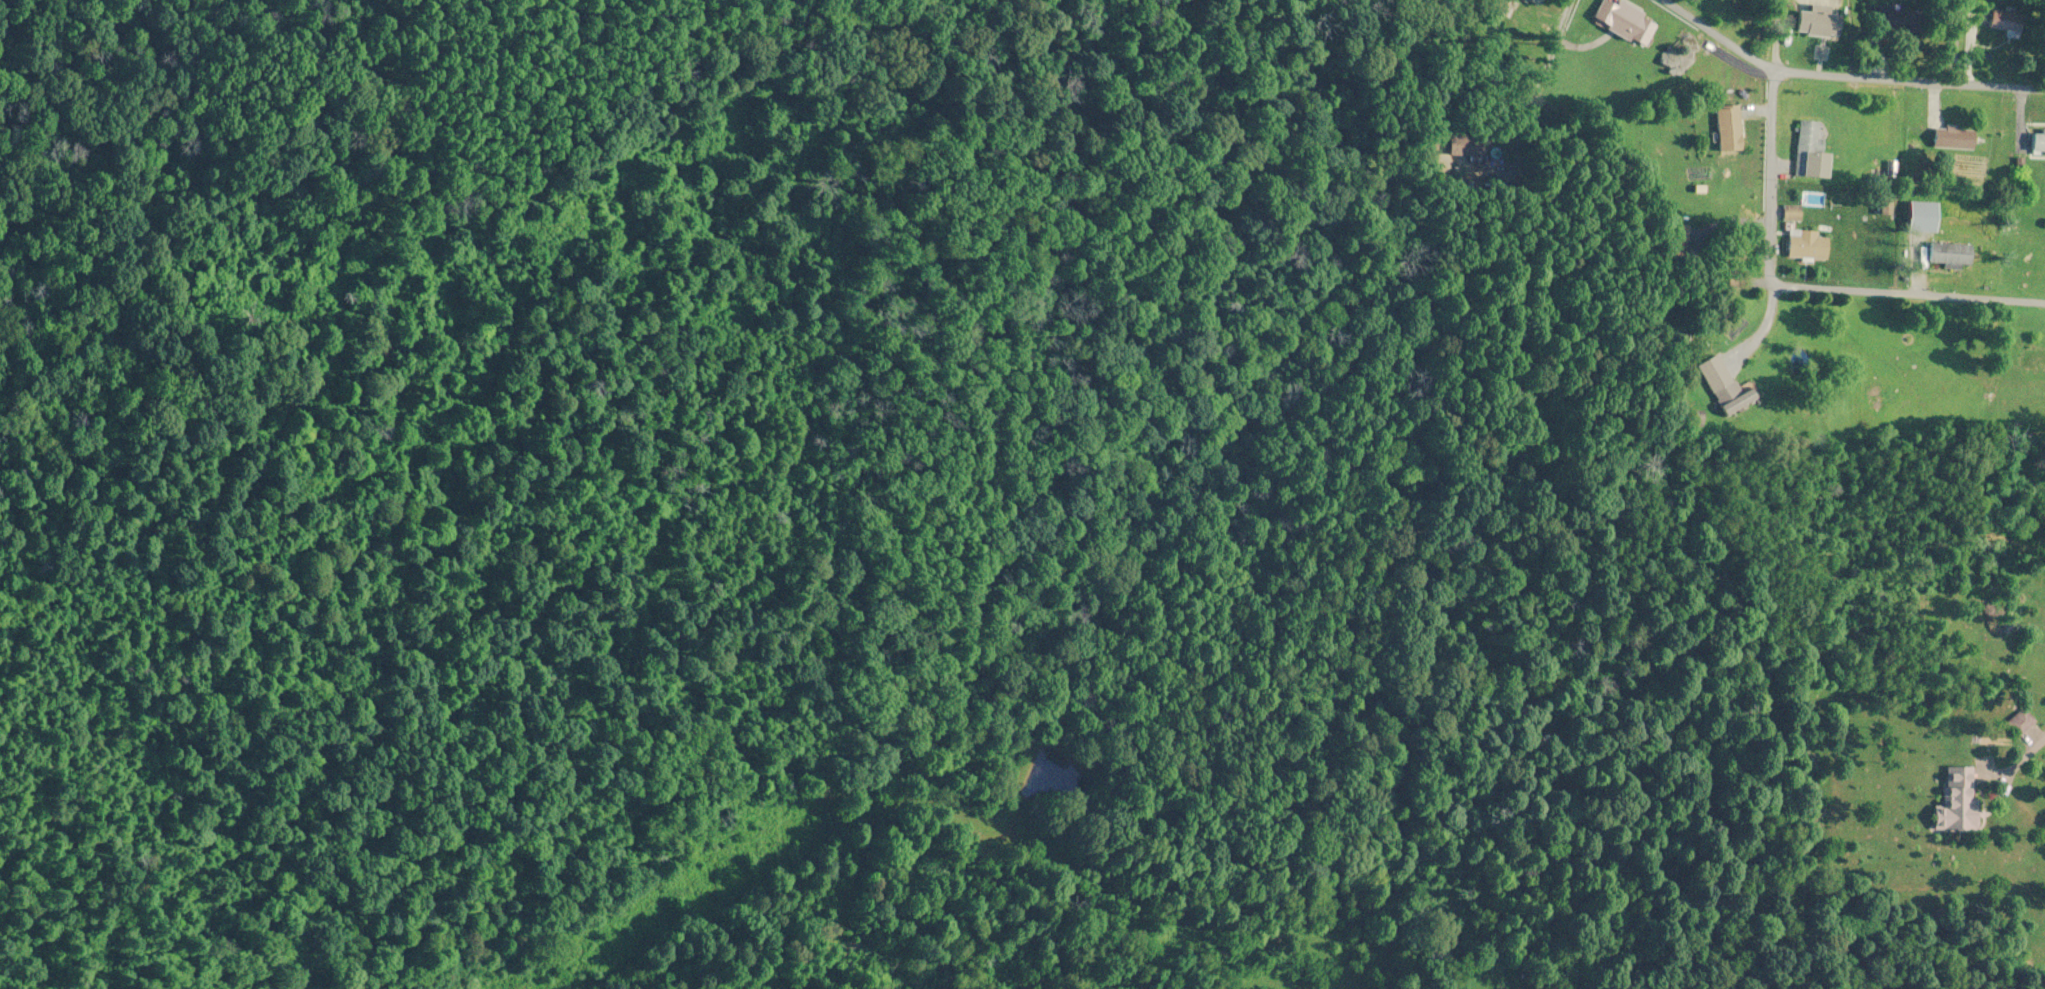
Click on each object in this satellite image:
building: (2004, 21)
building: (1624, 22)
building: (1817, 22)
road: (1998, 39)
road: (1877, 73)
building: (1954, 137)
building: (2036, 142)
building: (1807, 148)
building: (1806, 244)
building: (1950, 254)
road: (1809, 304)
building: (2033, 360)
building: (1733, 398)
building: (1960, 799)
road: (2004, 910)

